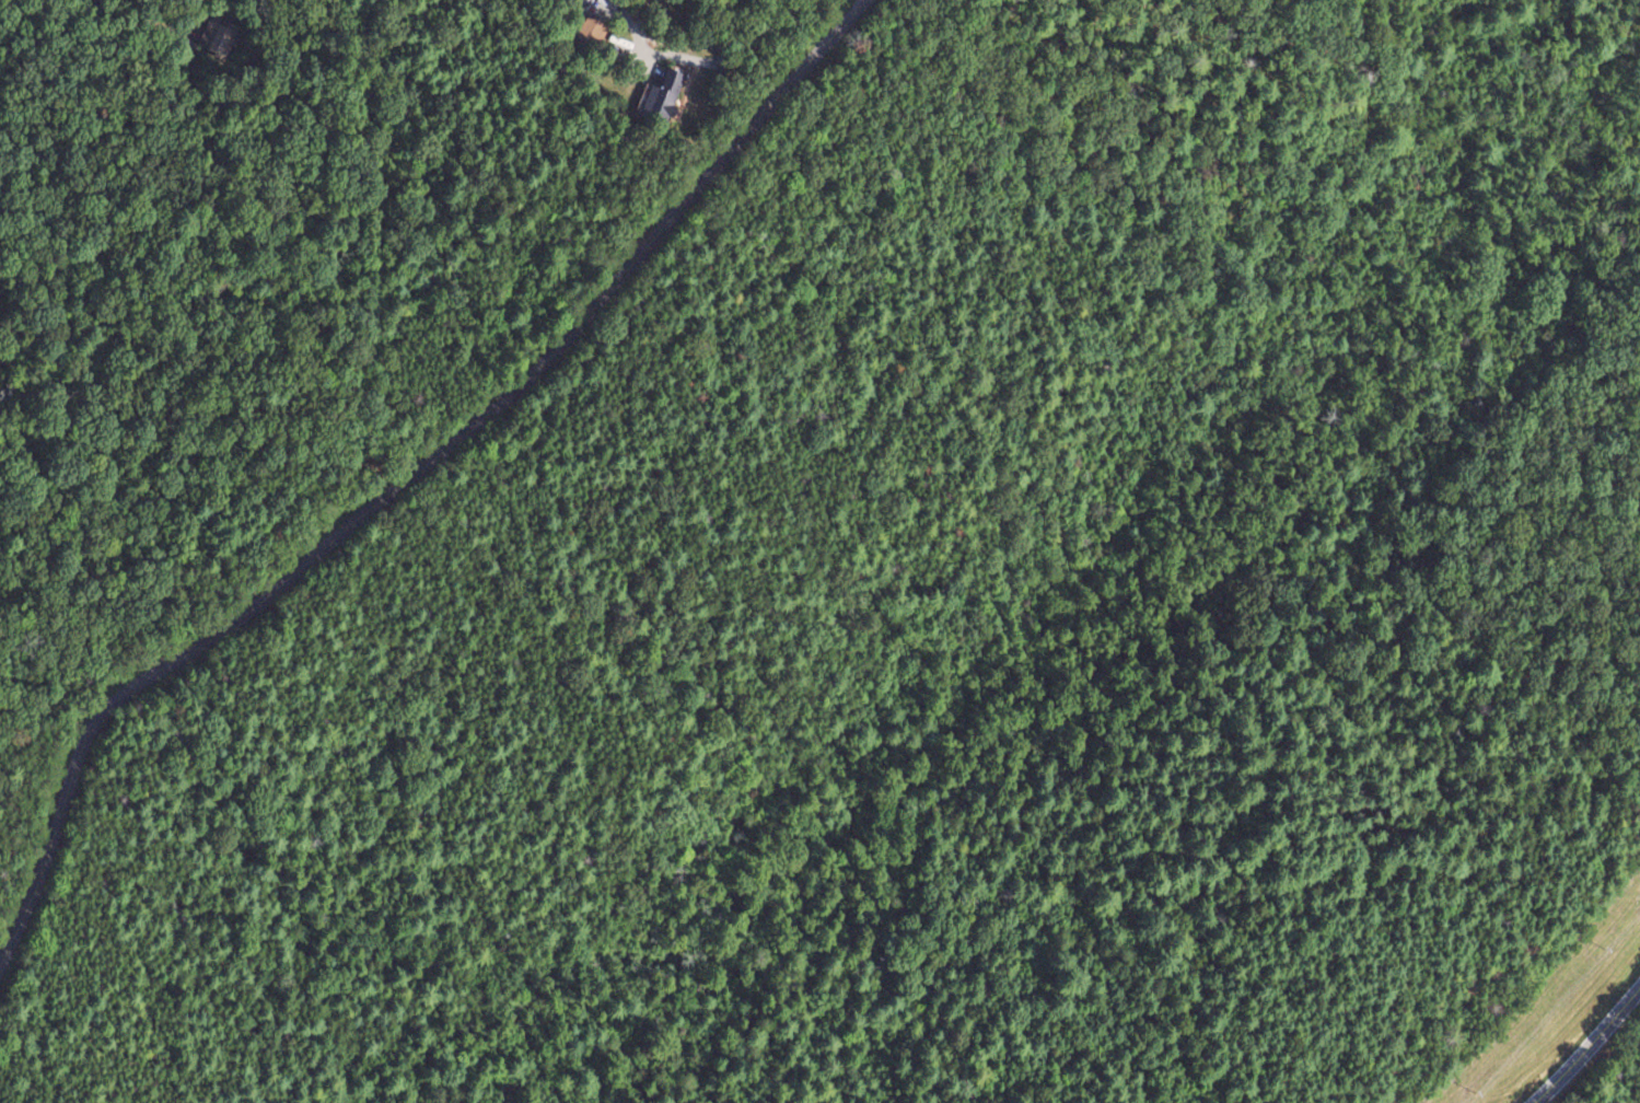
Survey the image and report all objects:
road: (655, 0)
building: (206, 35)
building: (660, 96)
road: (407, 477)
road: (1583, 1042)

